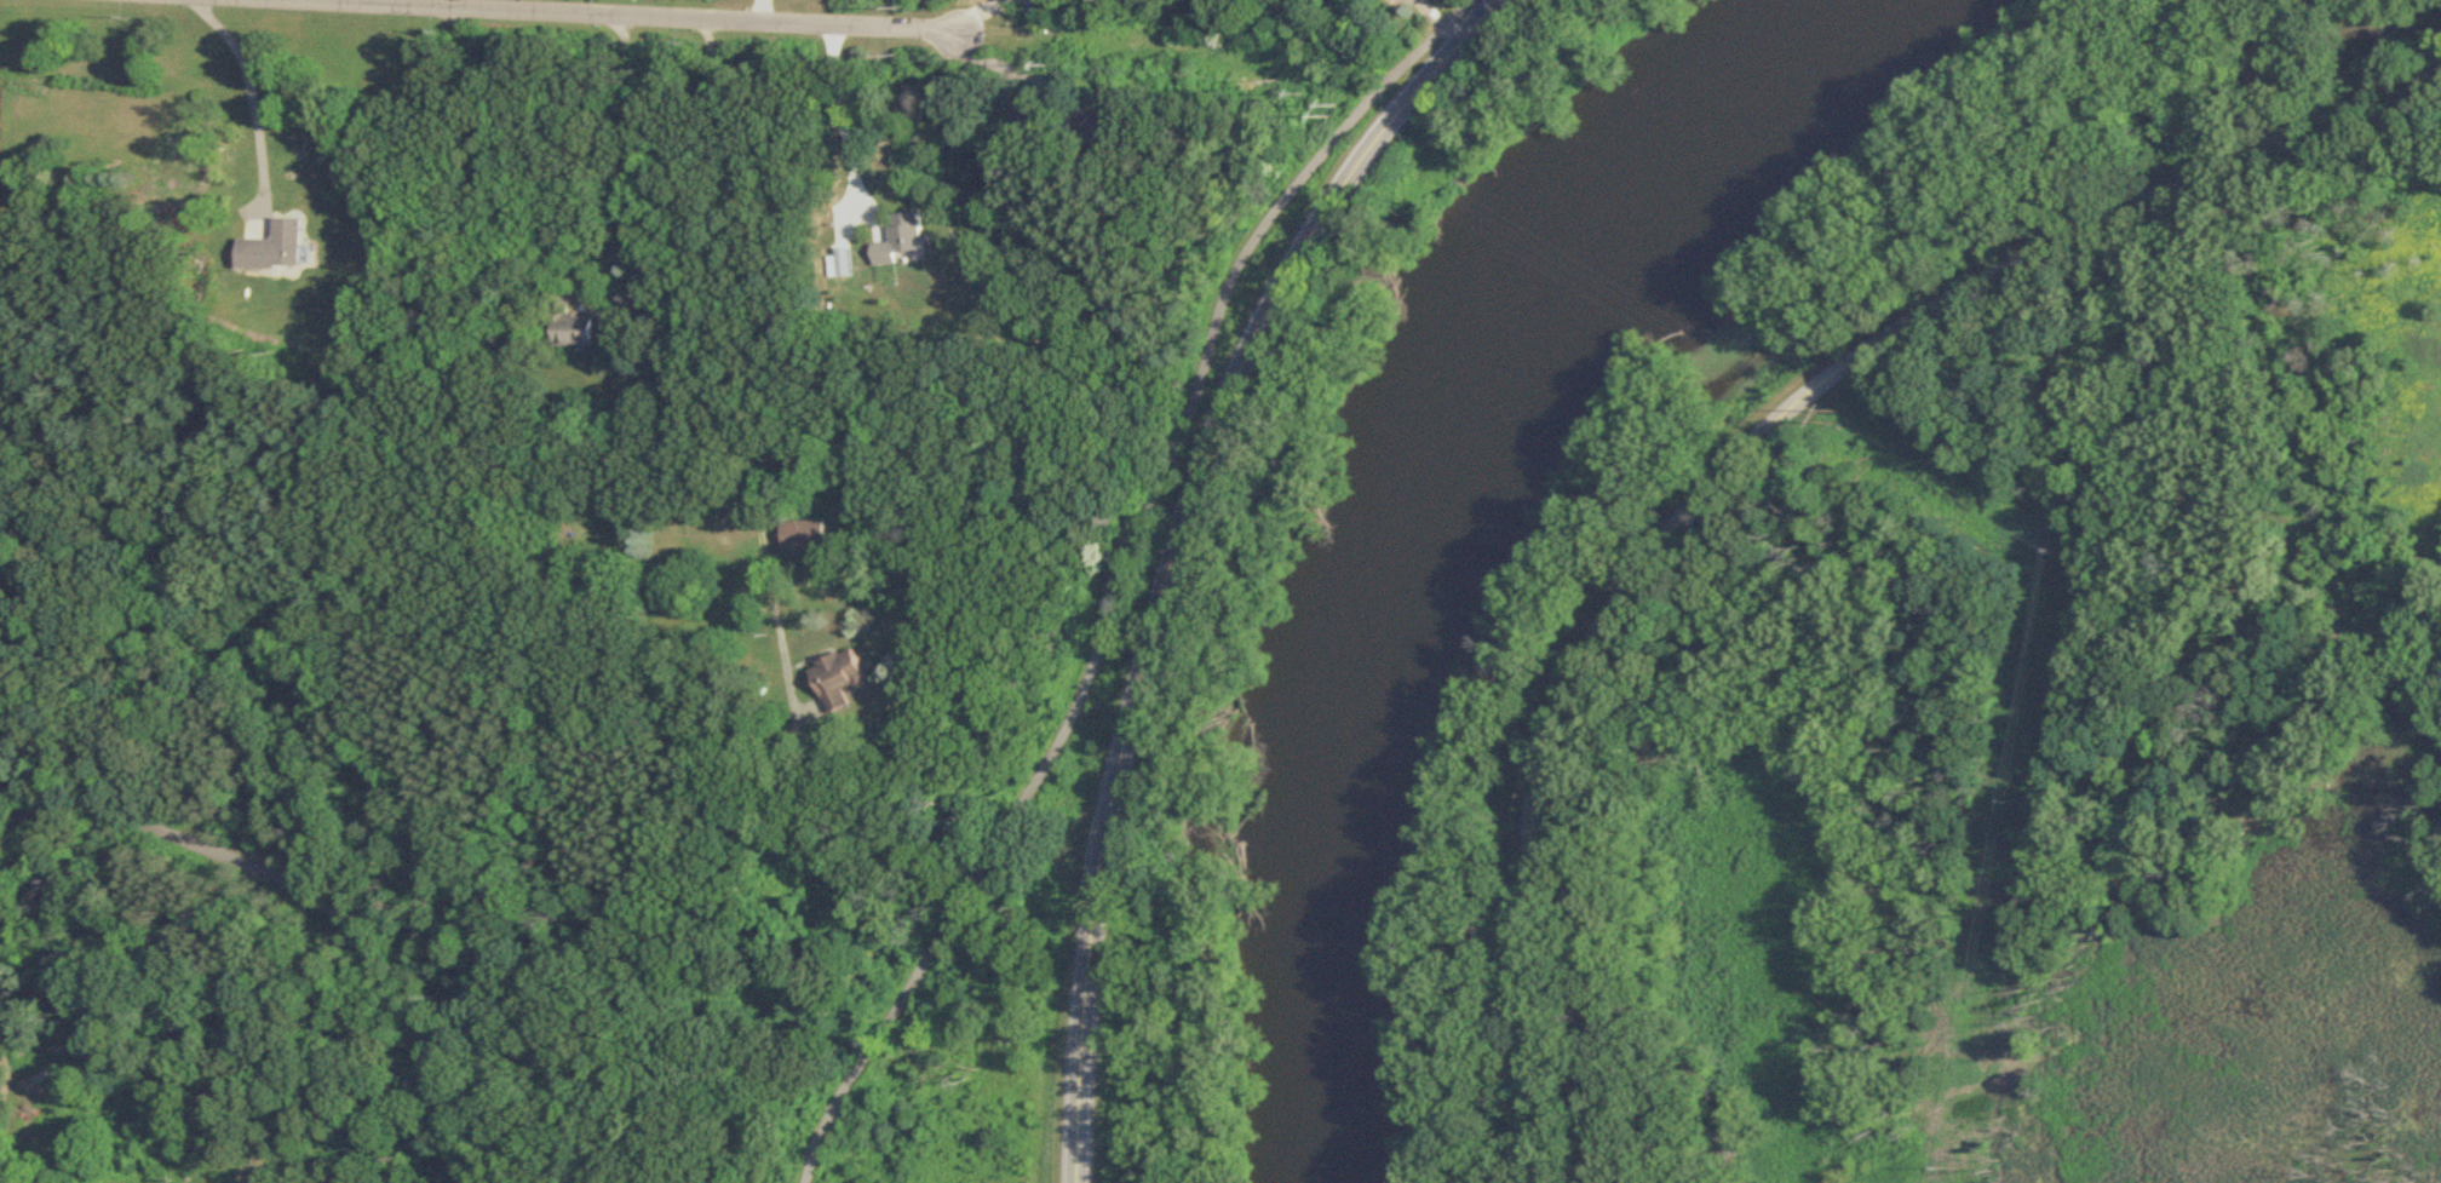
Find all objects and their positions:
road: (637, 17)
road: (254, 92)
road: (844, 120)
building: (1030, 127)
building: (1110, 136)
building: (903, 239)
building: (277, 248)
building: (849, 264)
road: (636, 325)
building: (572, 326)
road: (749, 346)
road: (1740, 450)
river: (1442, 505)
building: (808, 535)
road: (1181, 549)
road: (1118, 574)
building: (840, 678)
road: (316, 895)
park: (492, 969)
road: (13, 1074)

